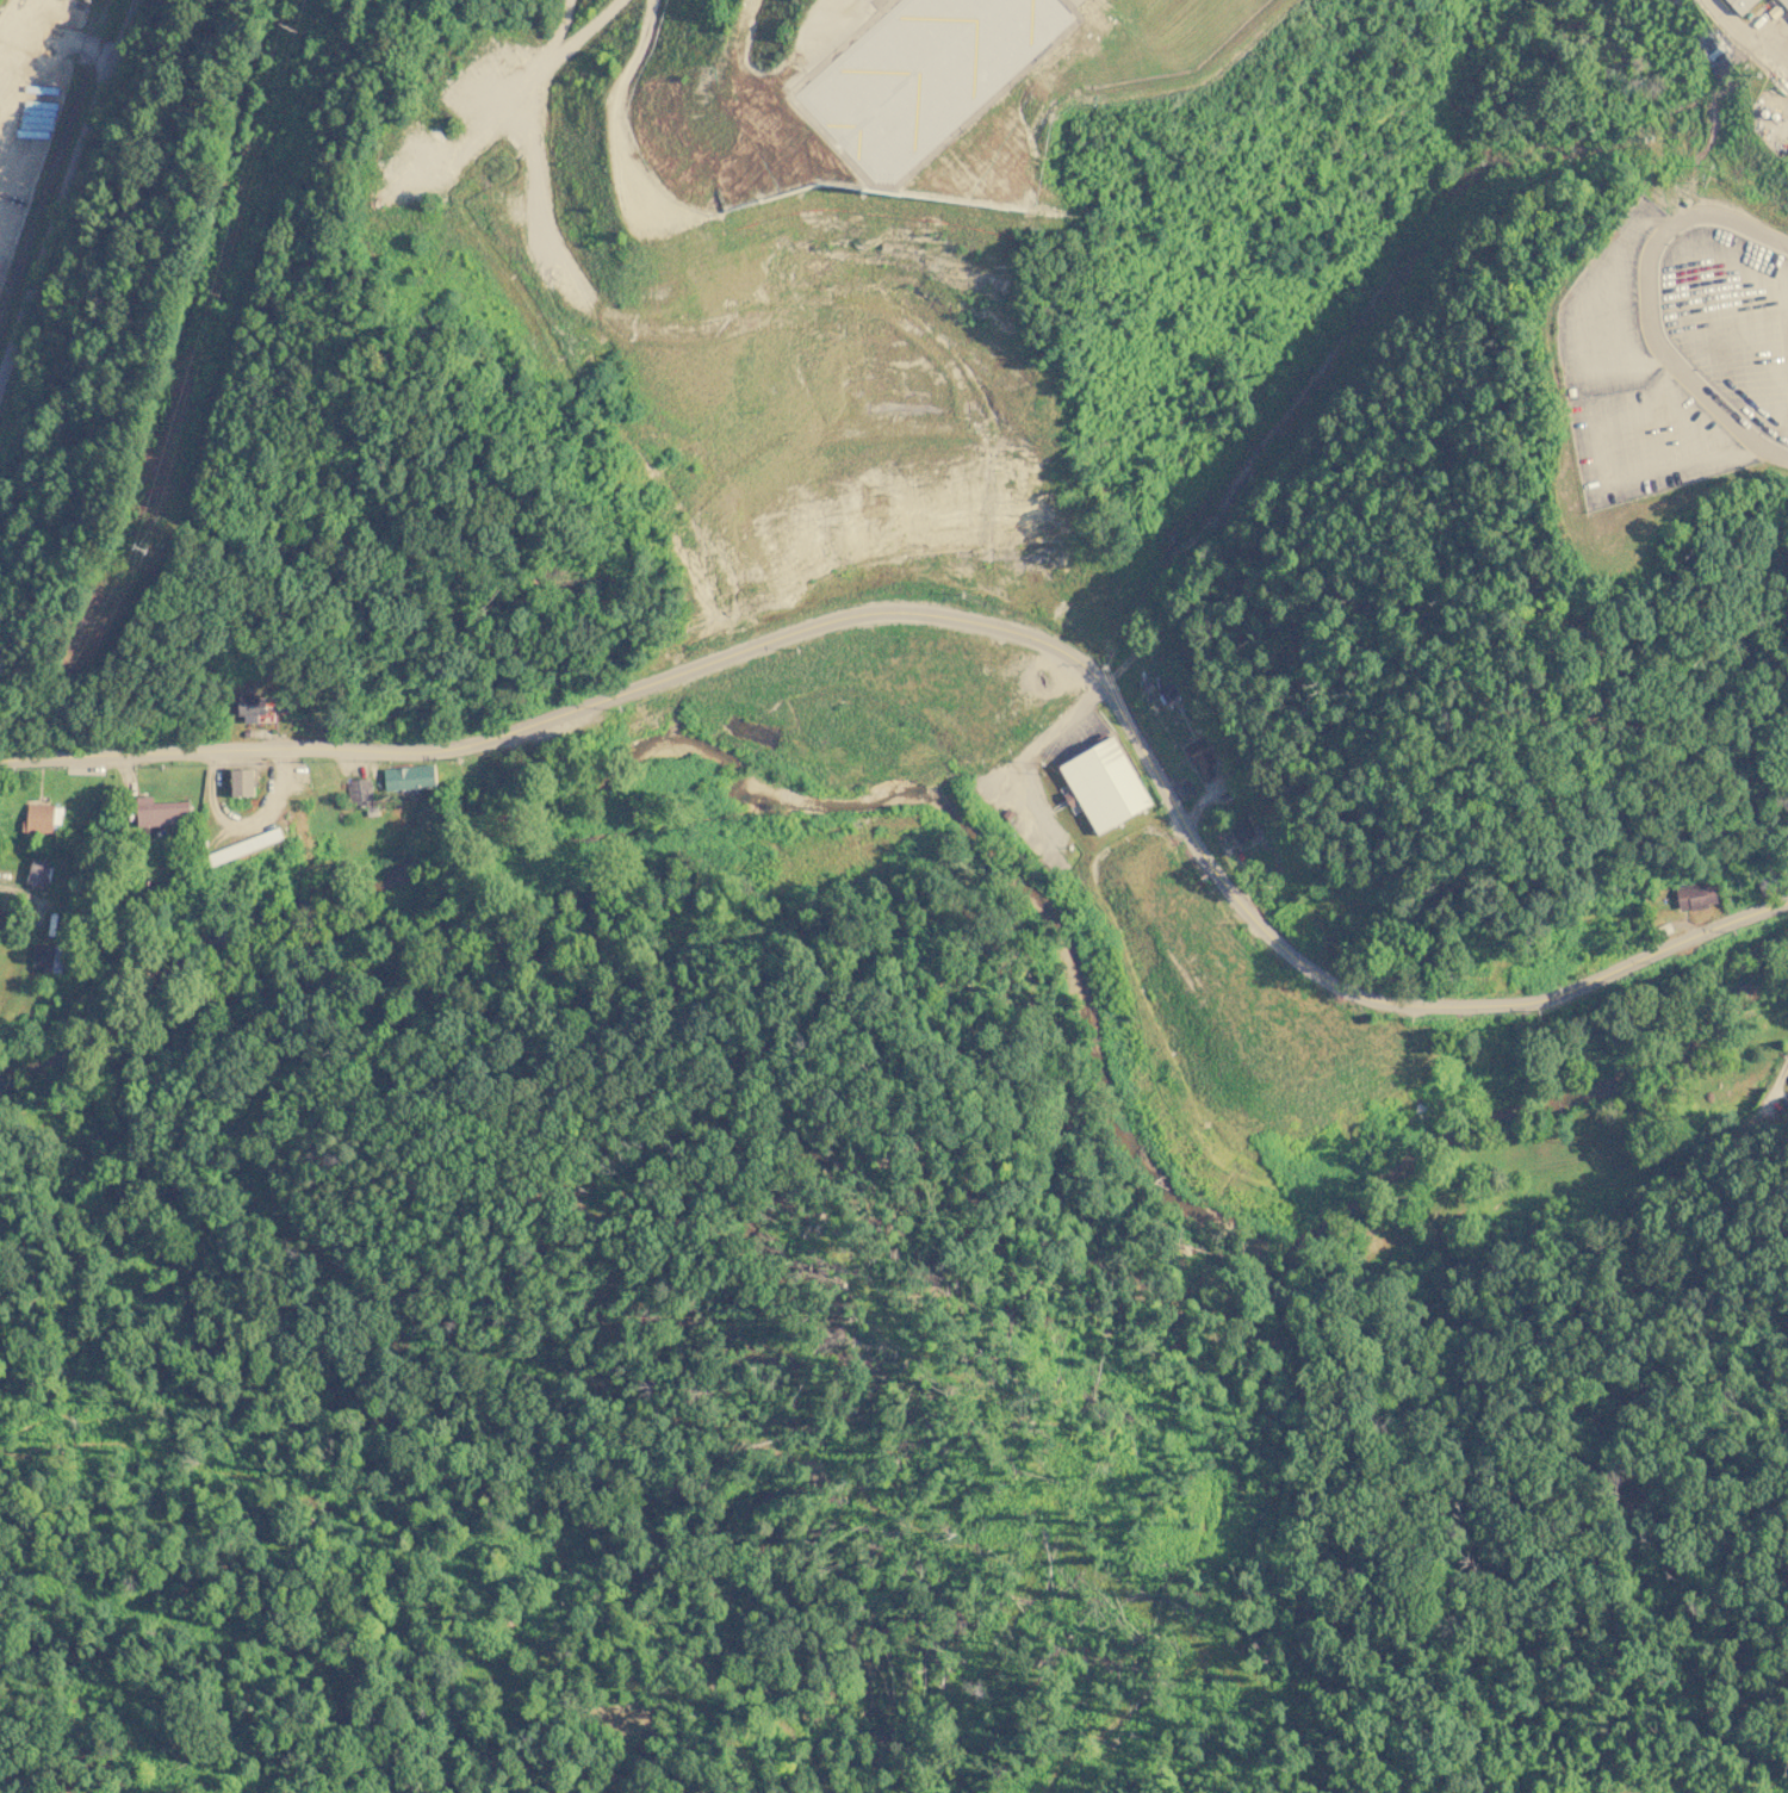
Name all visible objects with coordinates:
building: (1786, 1)
building: (1742, 5)
road: (553, 24)
road: (584, 27)
airport runway: (940, 52)
road: (61, 186)
airport: (1329, 193)
road: (712, 205)
road: (1649, 305)
road: (976, 622)
building: (250, 706)
building: (1202, 759)
building: (408, 776)
building: (242, 782)
building: (1104, 784)
building: (358, 789)
building: (1184, 789)
building: (161, 811)
building: (38, 817)
building: (1241, 829)
building: (243, 845)
river: (993, 851)
building: (39, 874)
building: (1695, 894)
road: (18, 896)
building: (45, 956)
road: (1752, 1105)

